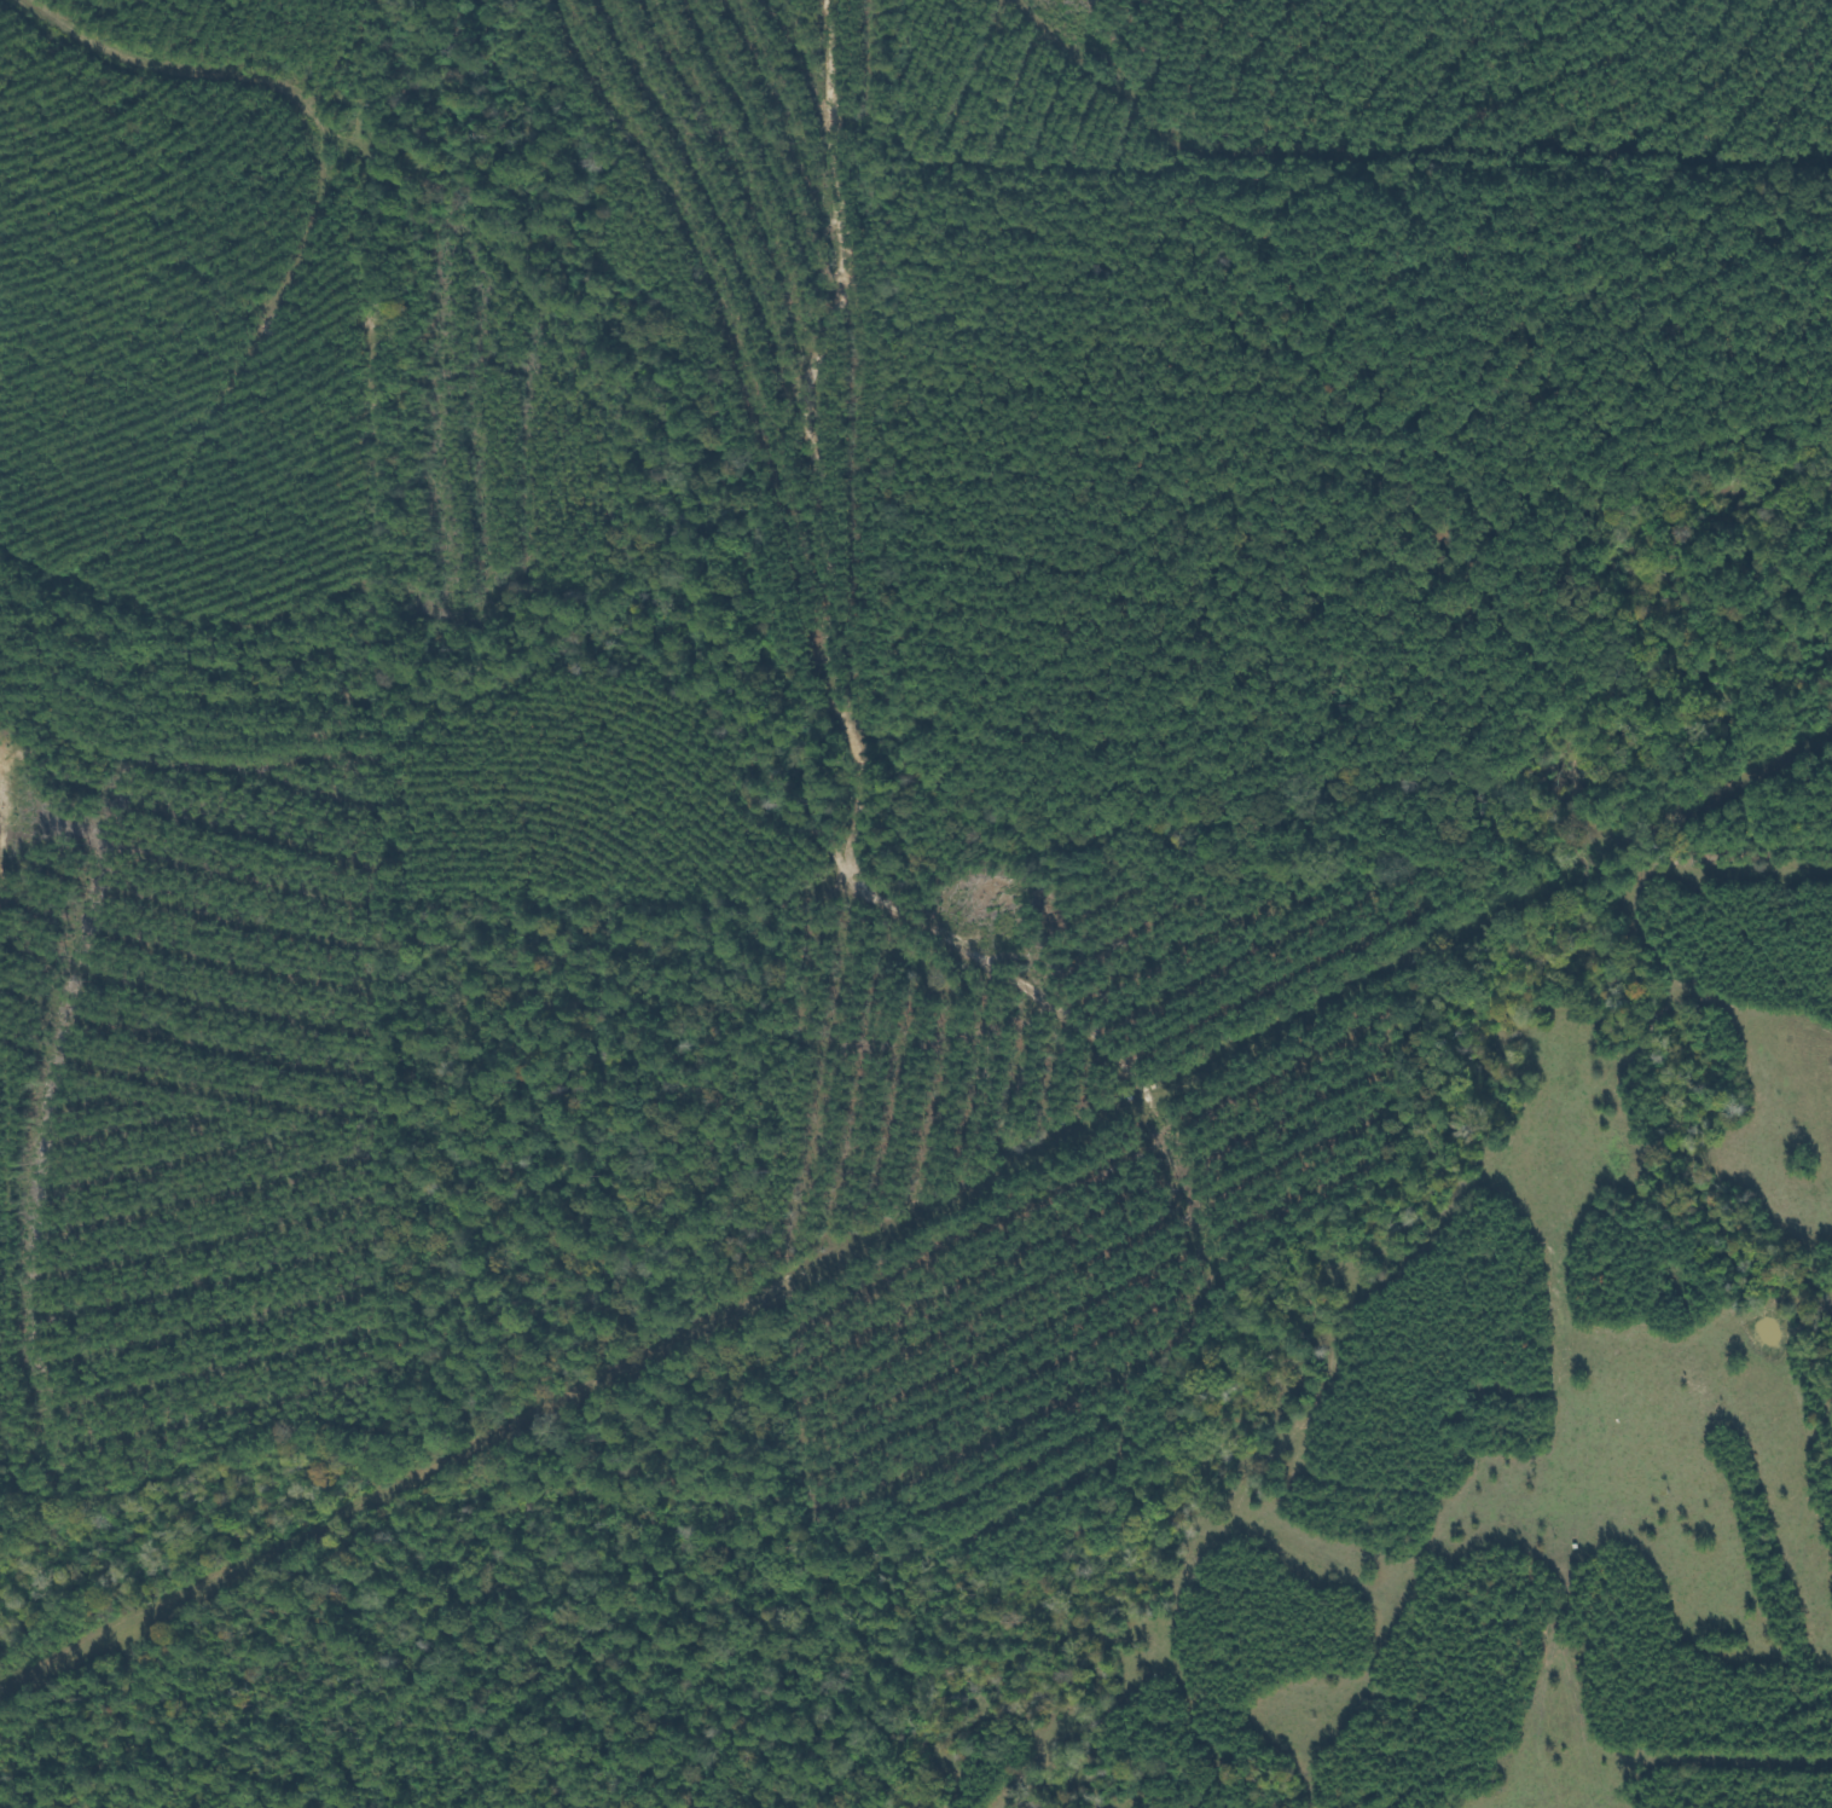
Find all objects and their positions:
road: (236, 358)
road: (109, 996)

